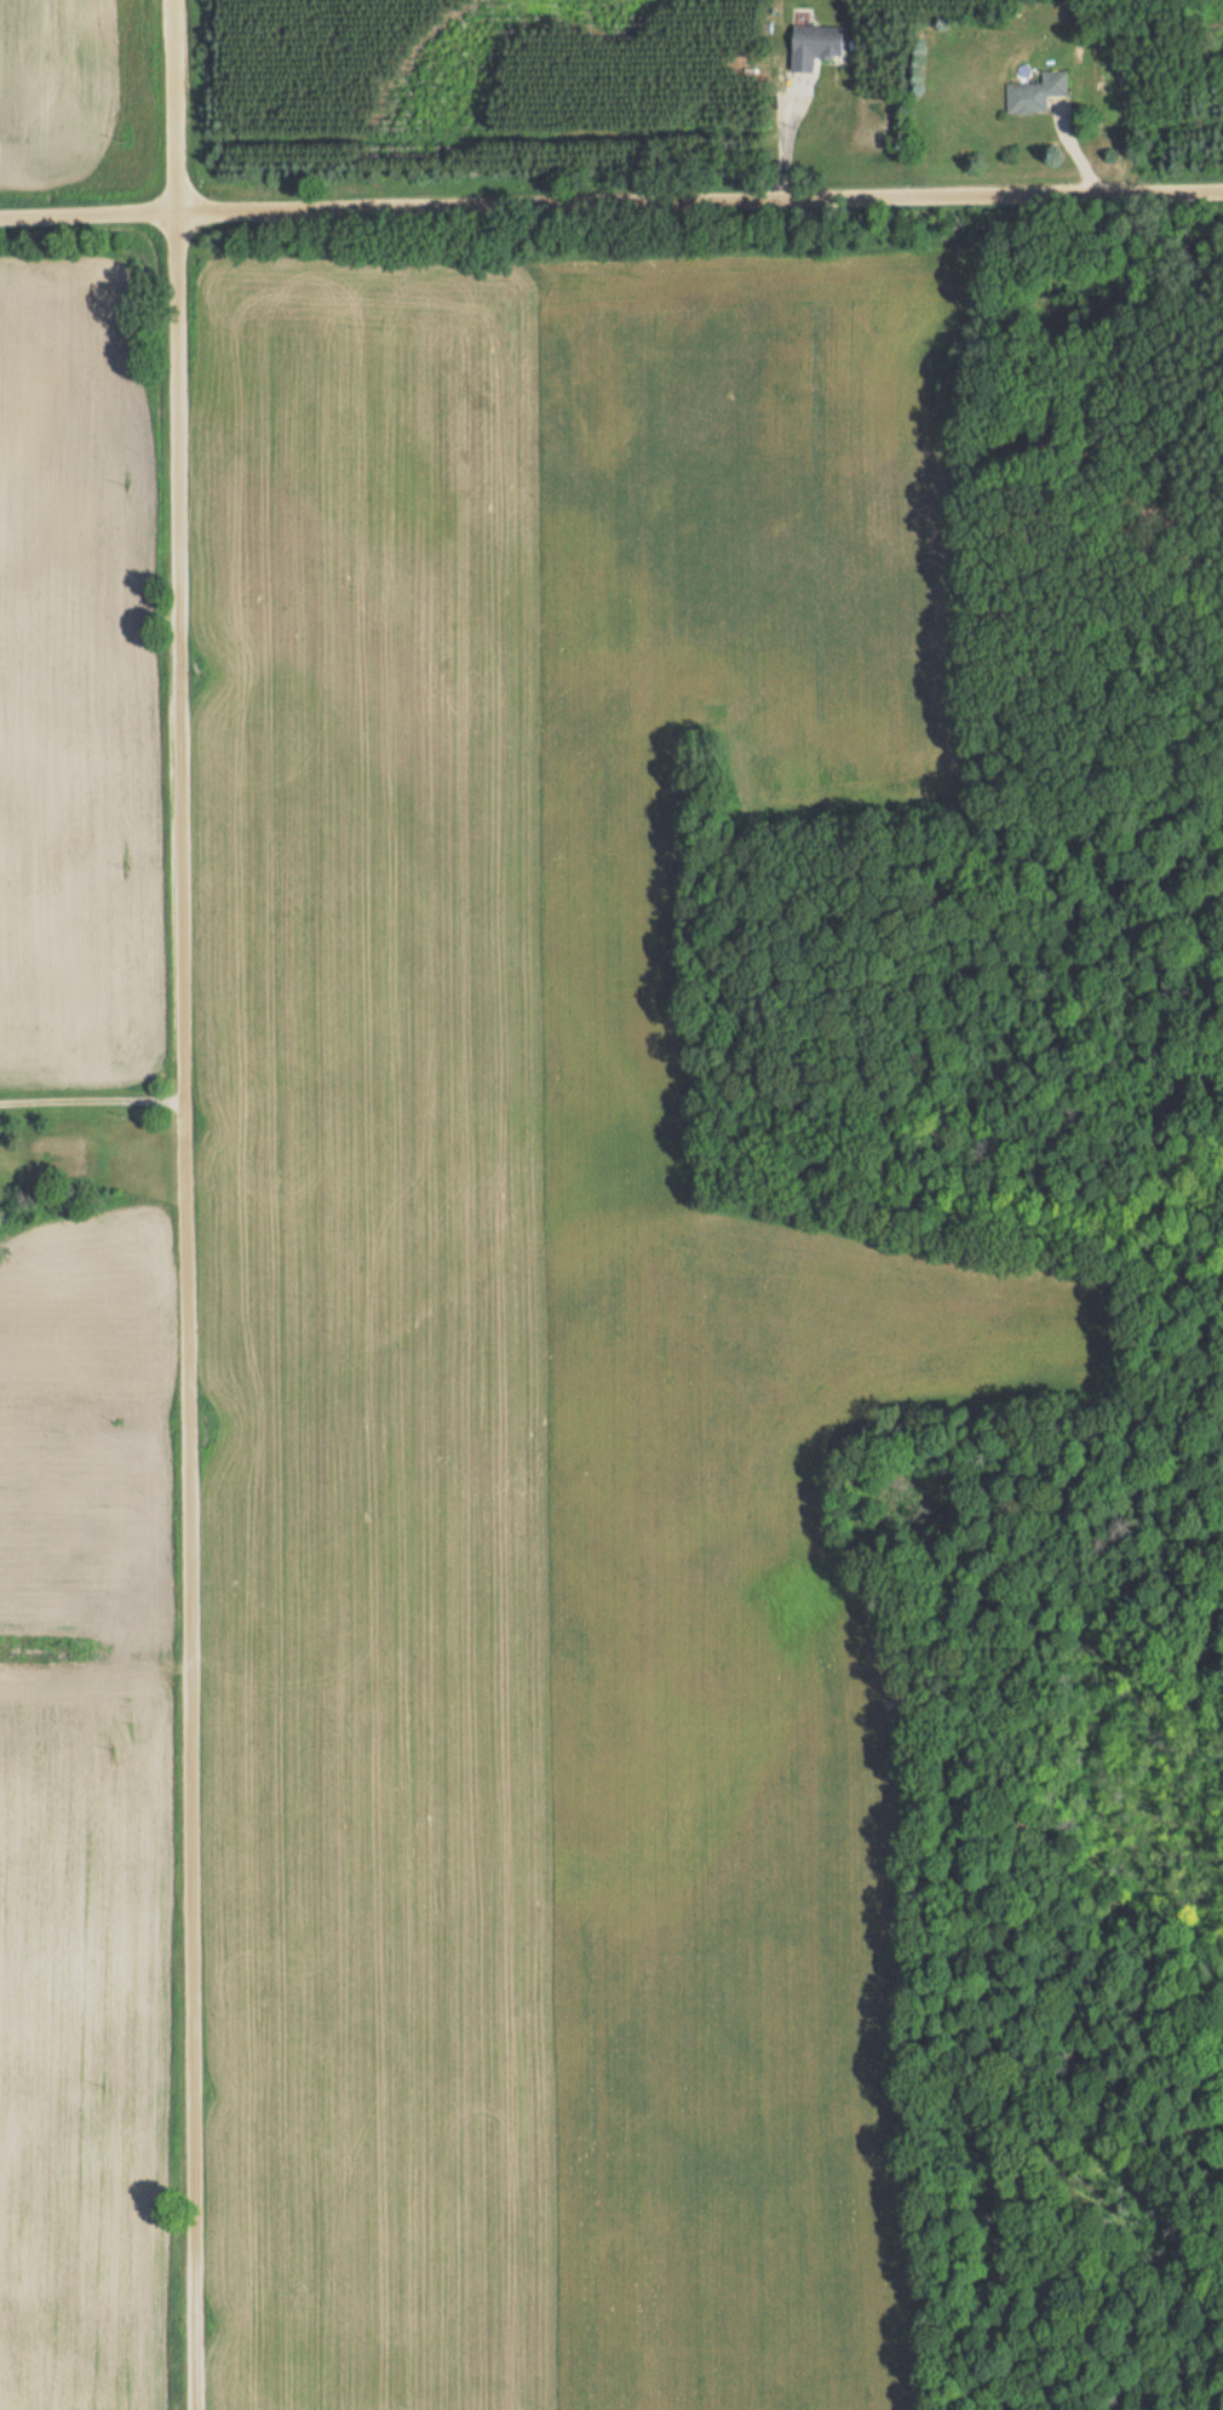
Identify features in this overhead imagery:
building: (814, 45)
building: (1035, 92)
road: (611, 206)
road: (92, 1097)
road: (184, 1204)

